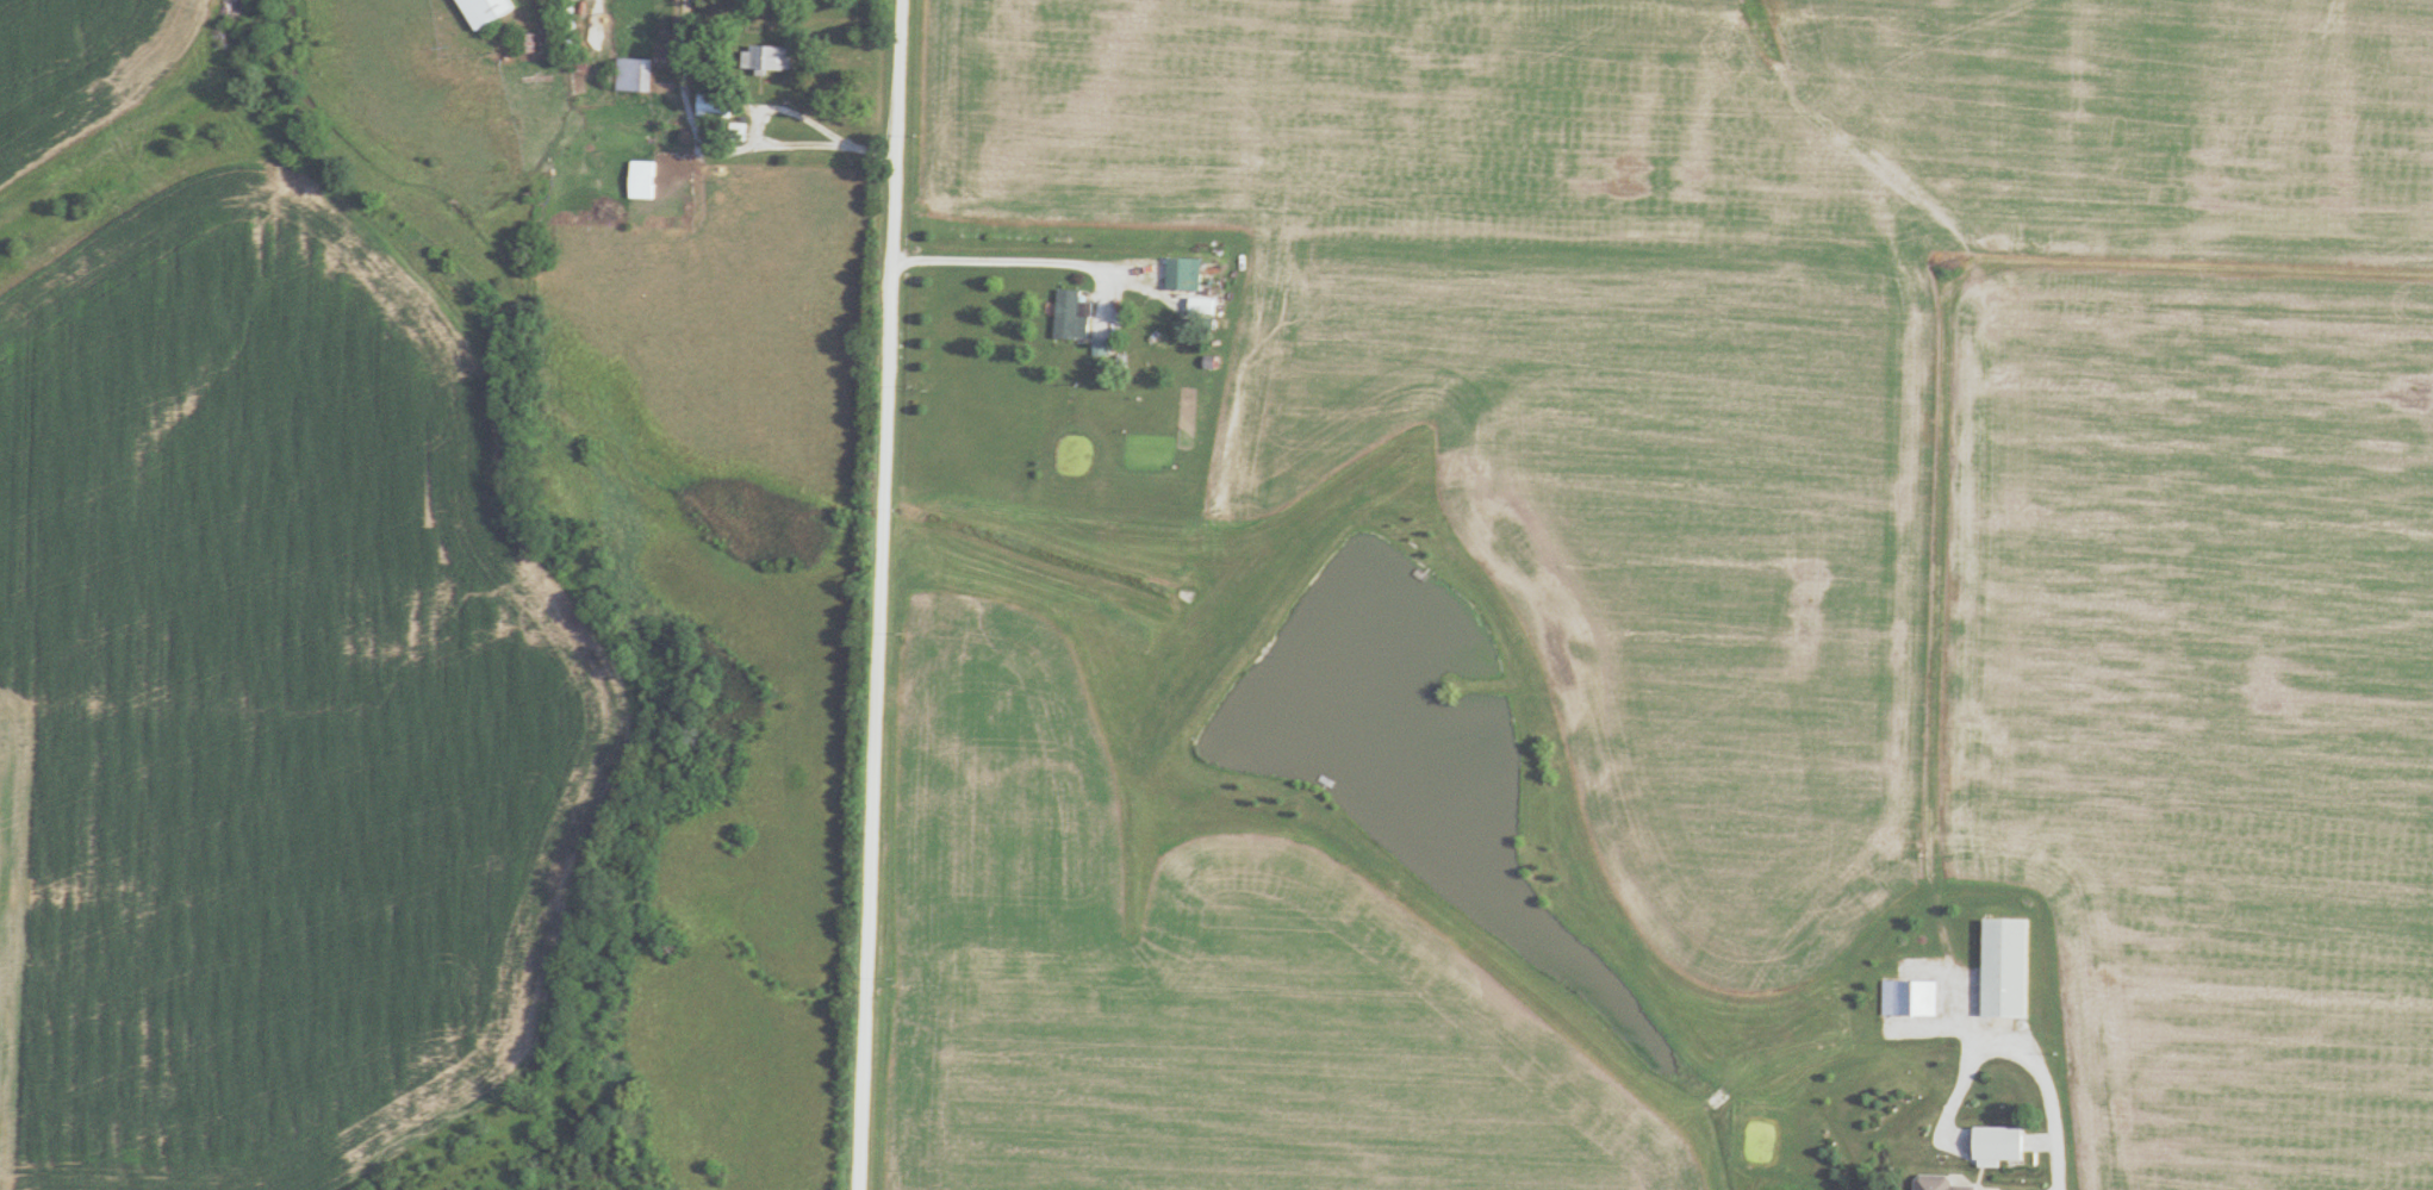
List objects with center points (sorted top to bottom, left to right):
building: (481, 12)
building: (766, 60)
building: (633, 76)
road: (687, 105)
road: (763, 143)
road: (872, 145)
building: (640, 181)
road: (1035, 261)
building: (1182, 275)
building: (1071, 316)
building: (1208, 324)
road: (878, 594)
road: (1935, 604)
building: (2003, 968)
building: (1909, 997)
road: (2047, 1084)
building: (1997, 1142)
building: (1936, 1183)

